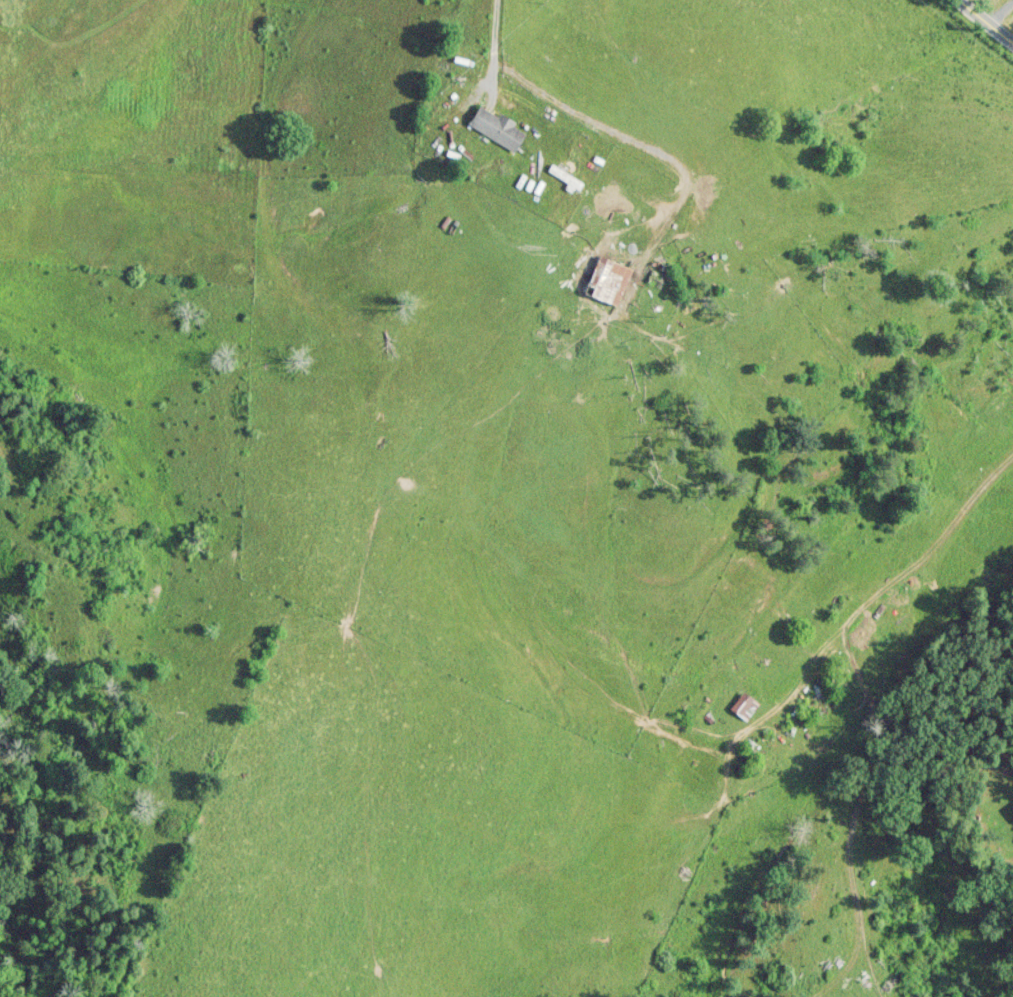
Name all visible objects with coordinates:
road: (999, 11)
road: (987, 20)
road: (493, 45)
building: (495, 127)
building: (607, 281)
building: (744, 705)

